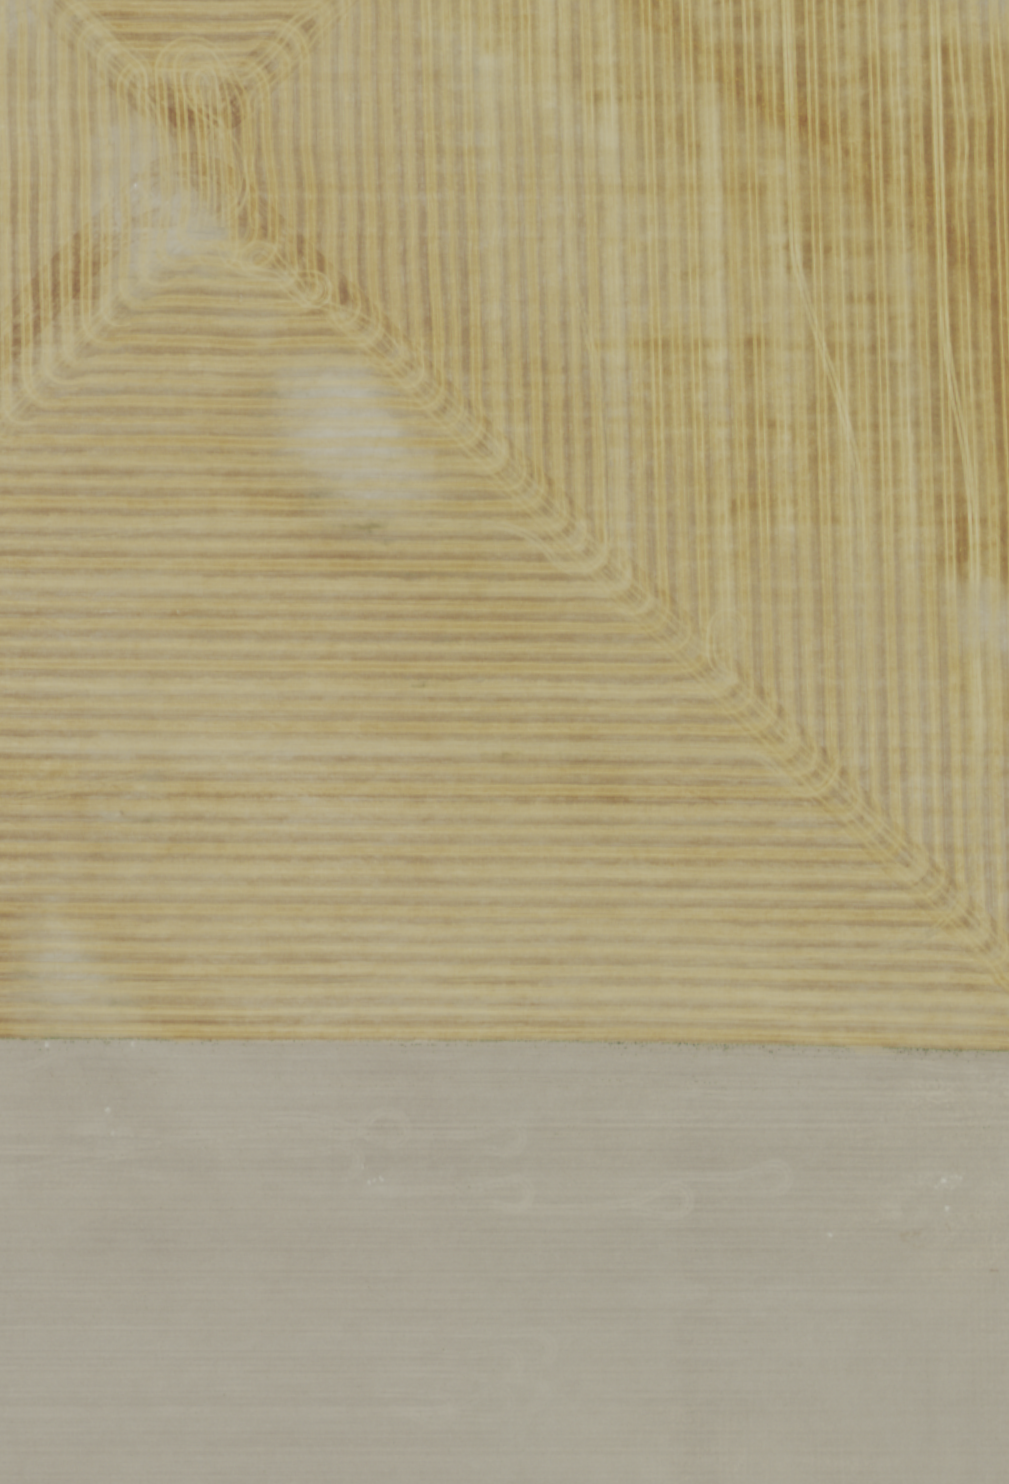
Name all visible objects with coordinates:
crop: (504, 742)

